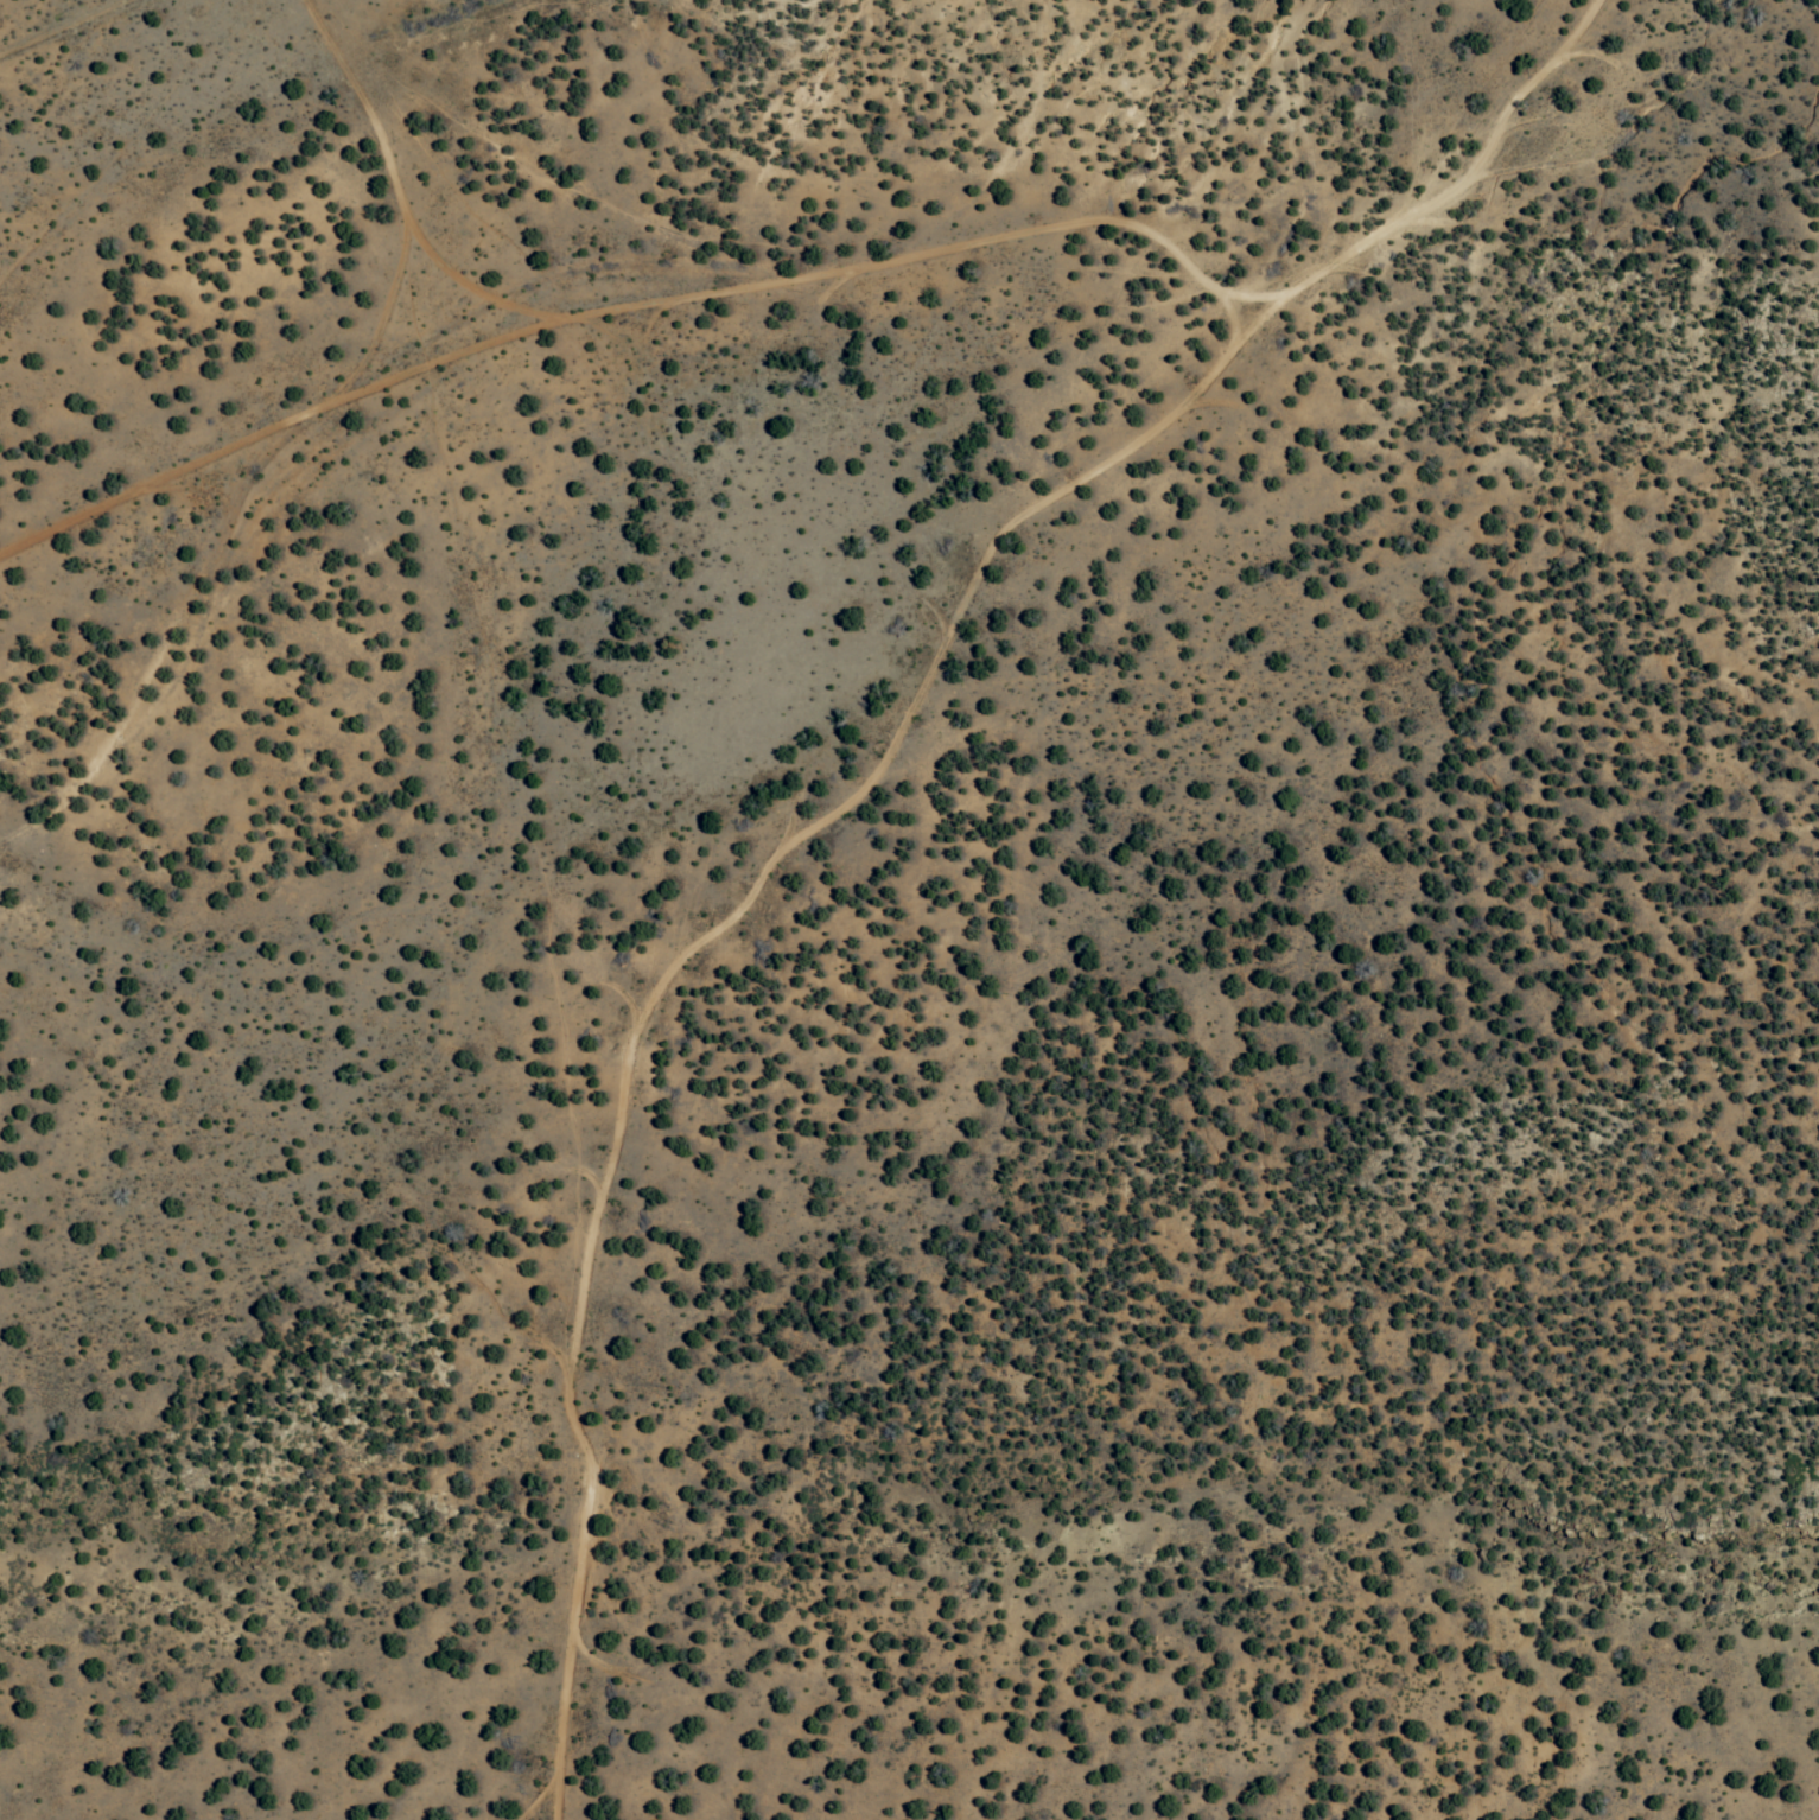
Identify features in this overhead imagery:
road: (482, 285)
road: (859, 793)

